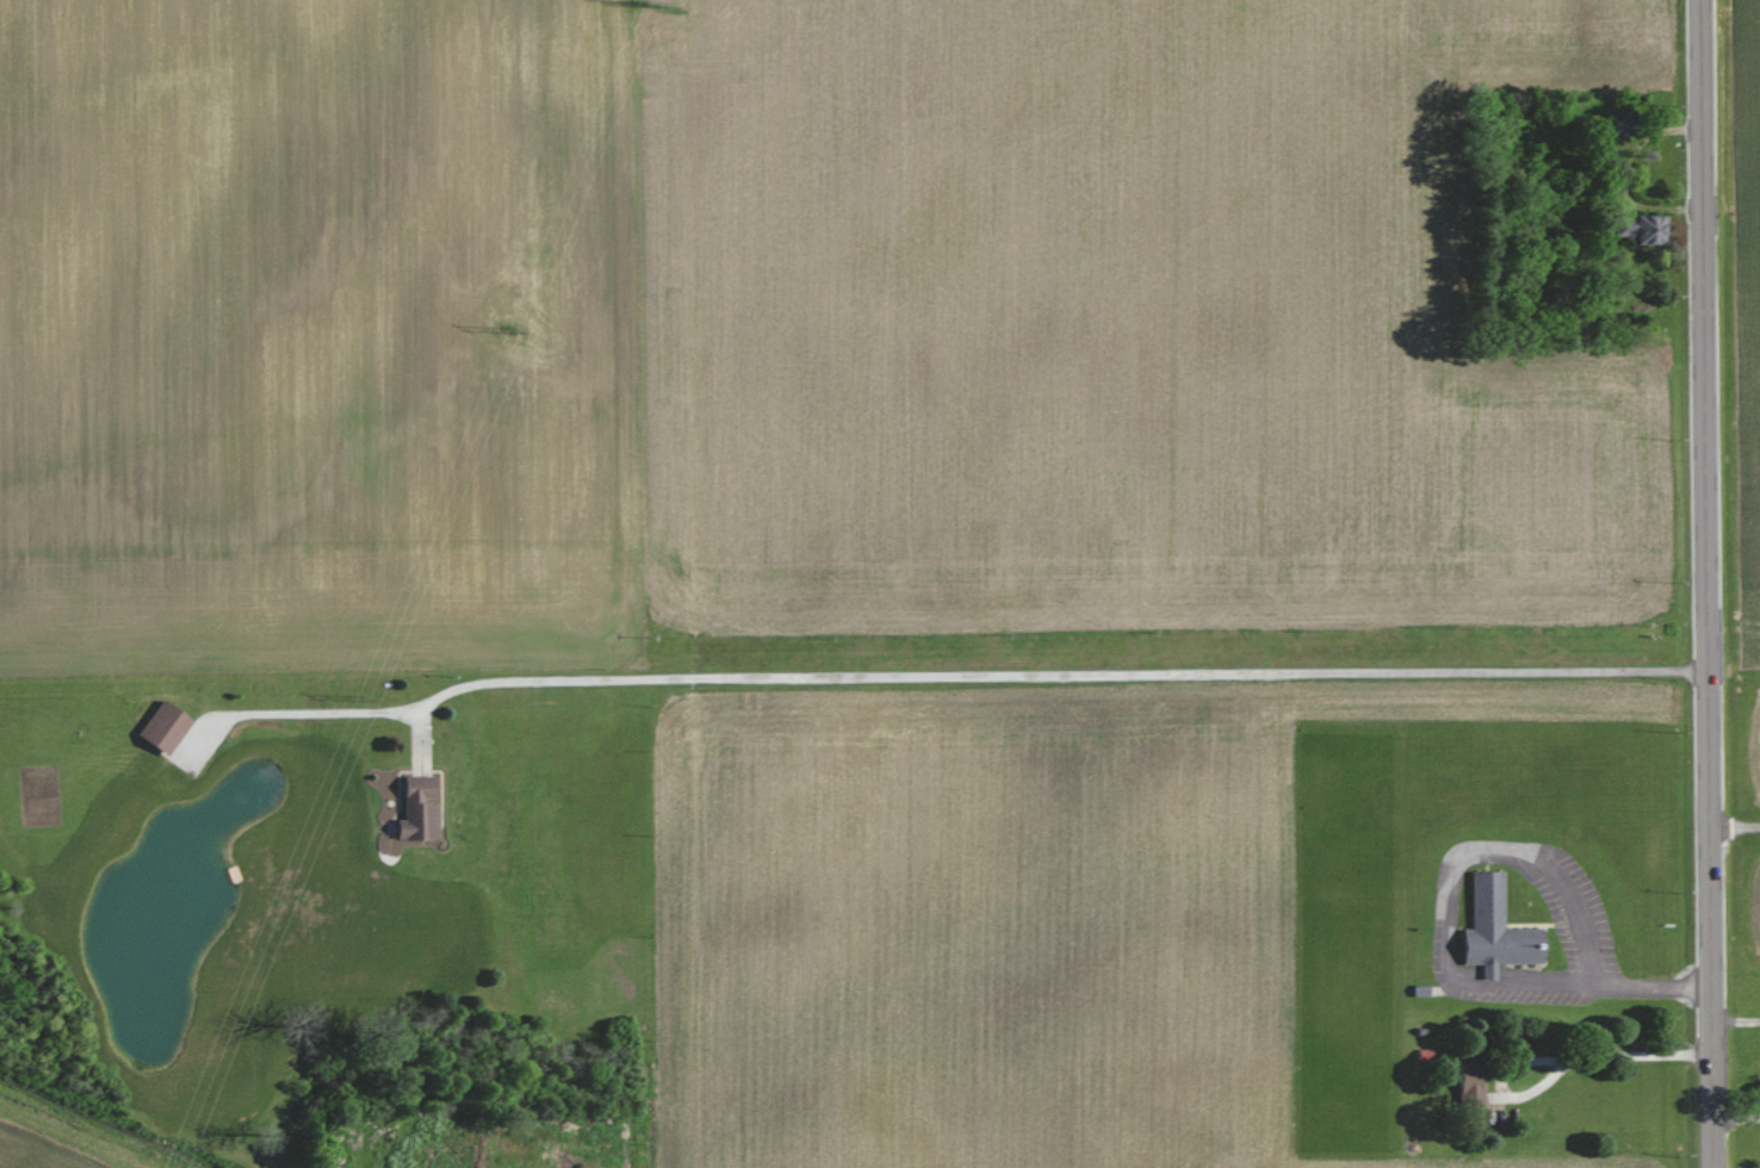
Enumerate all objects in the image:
road: (1699, 224)
building: (1638, 228)
road: (950, 676)
road: (1705, 719)
building: (166, 727)
building: (421, 807)
road: (1495, 849)
building: (1499, 928)
road: (1530, 983)
road: (1651, 986)
road: (1712, 1077)
building: (1473, 1080)

